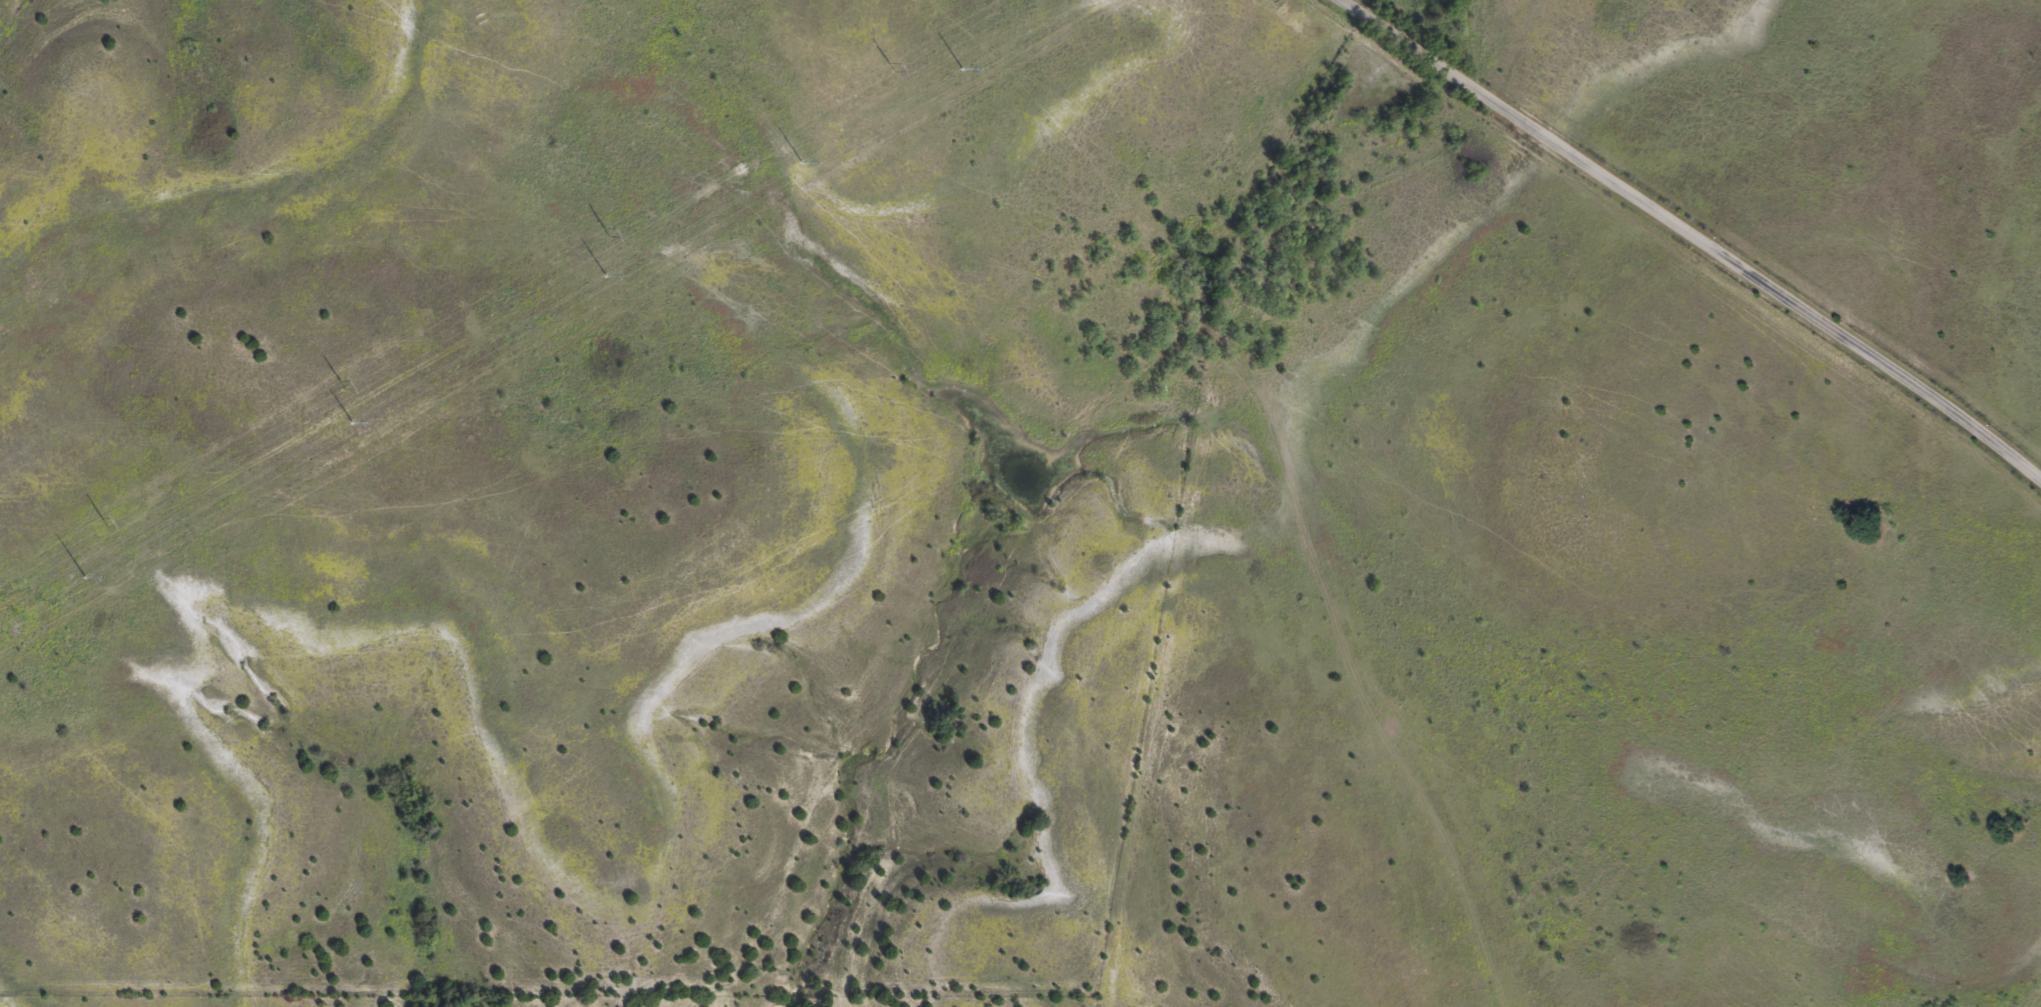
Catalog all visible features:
road: (1695, 233)
airport: (1897, 994)

